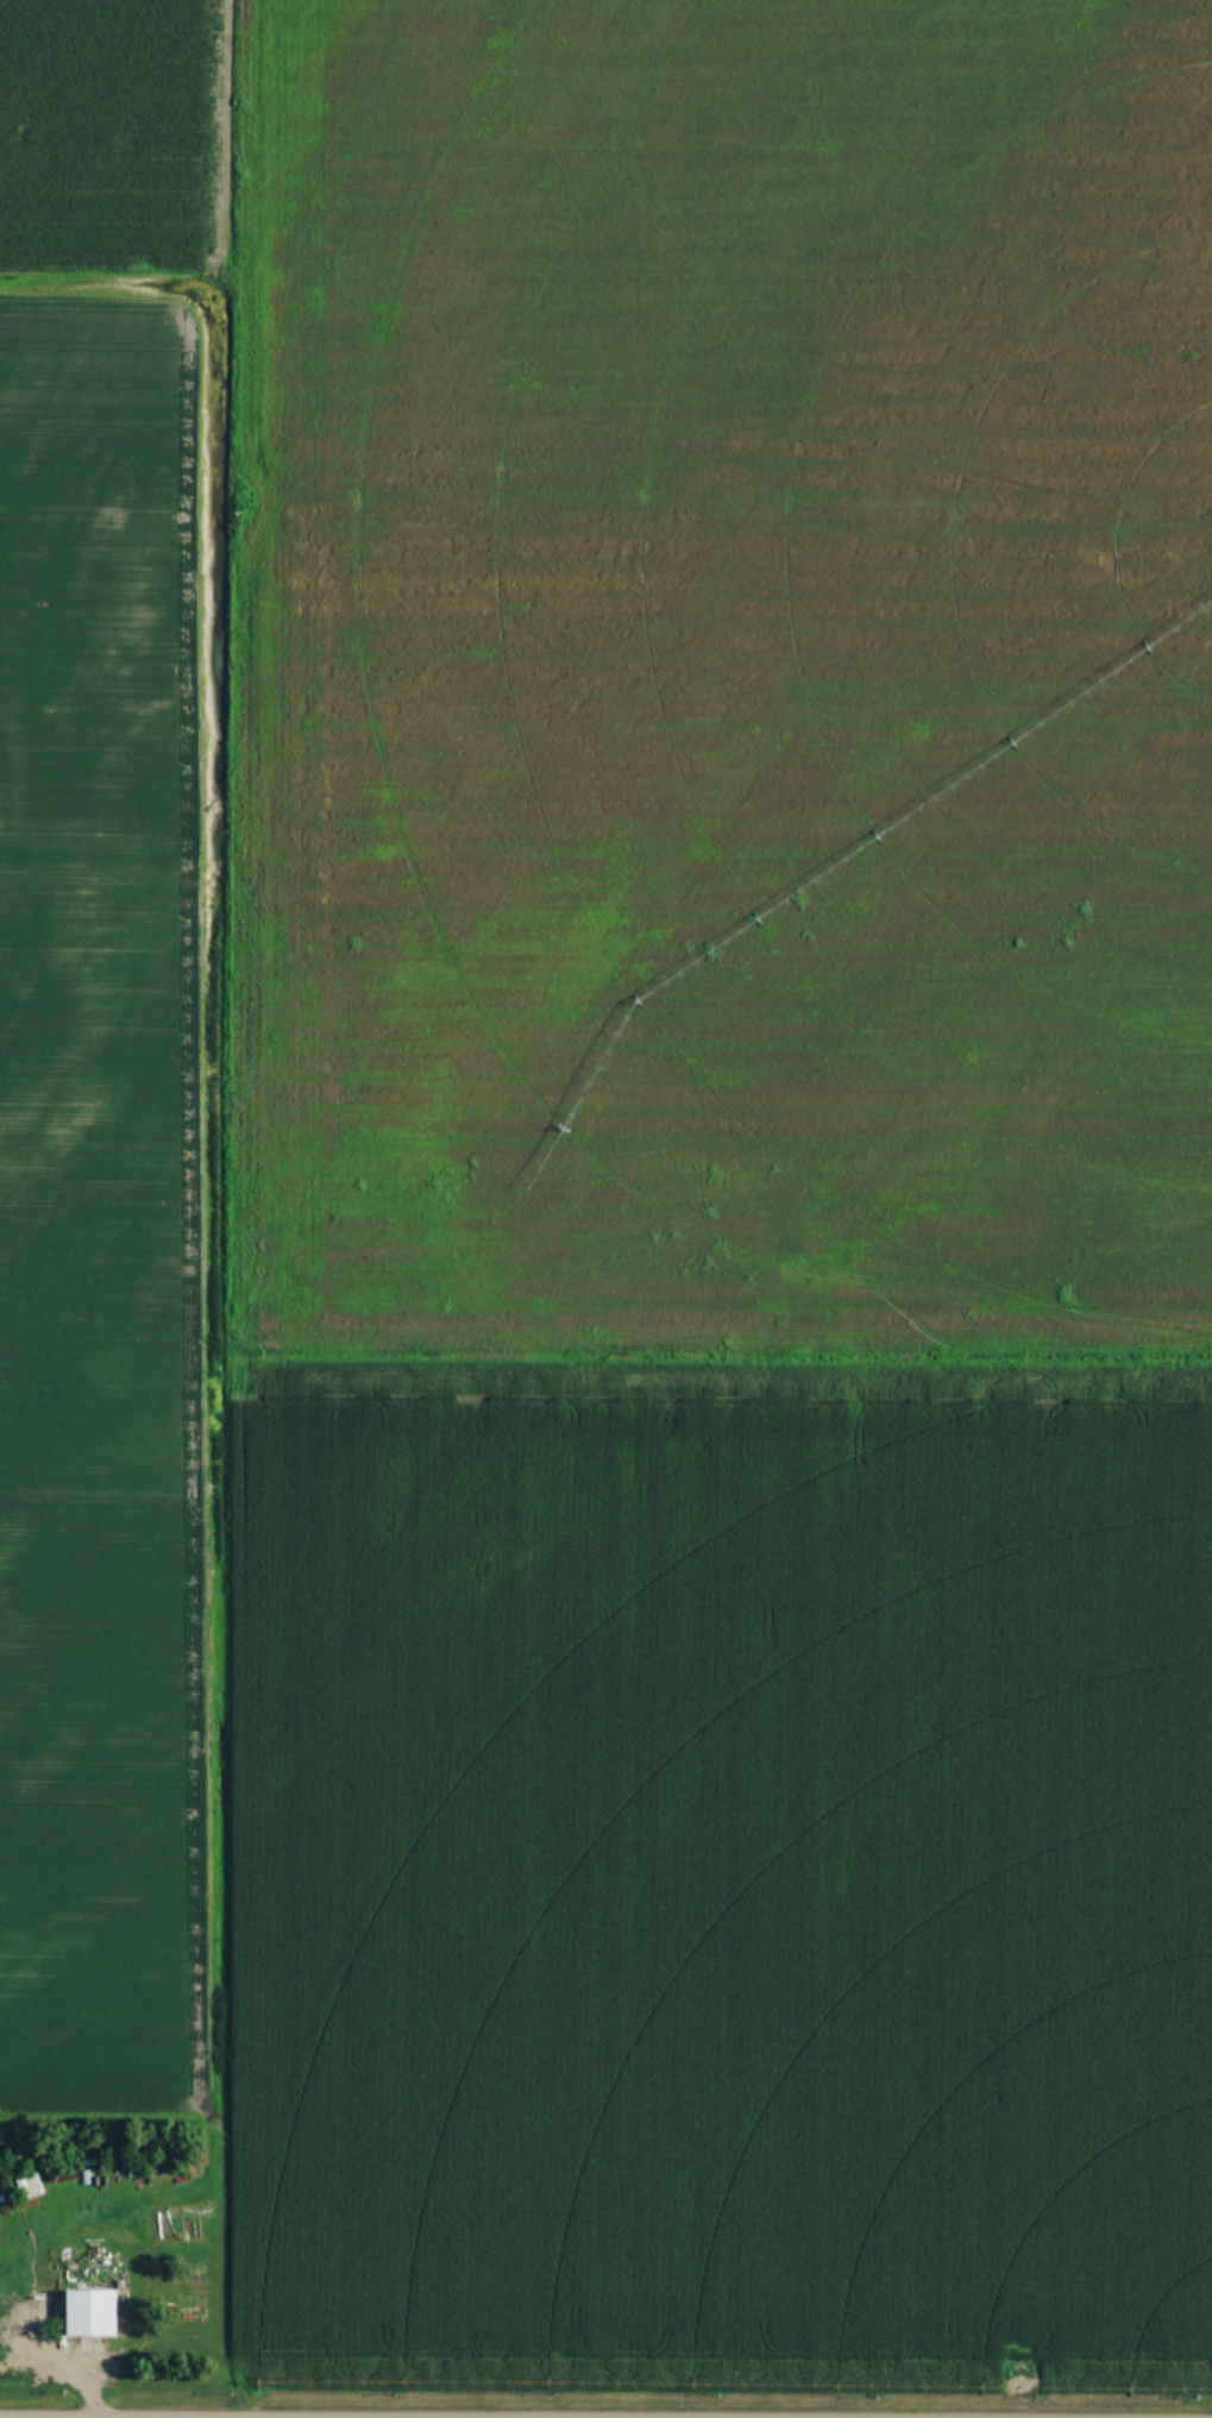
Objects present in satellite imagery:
building: (92, 2313)
road: (64, 2378)

